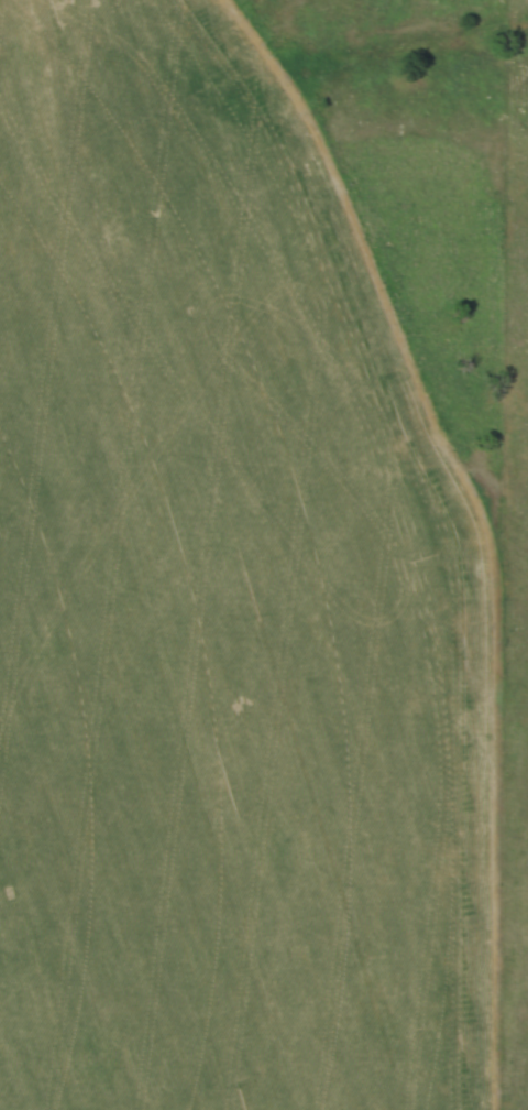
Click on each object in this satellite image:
crop: (222, 606)

